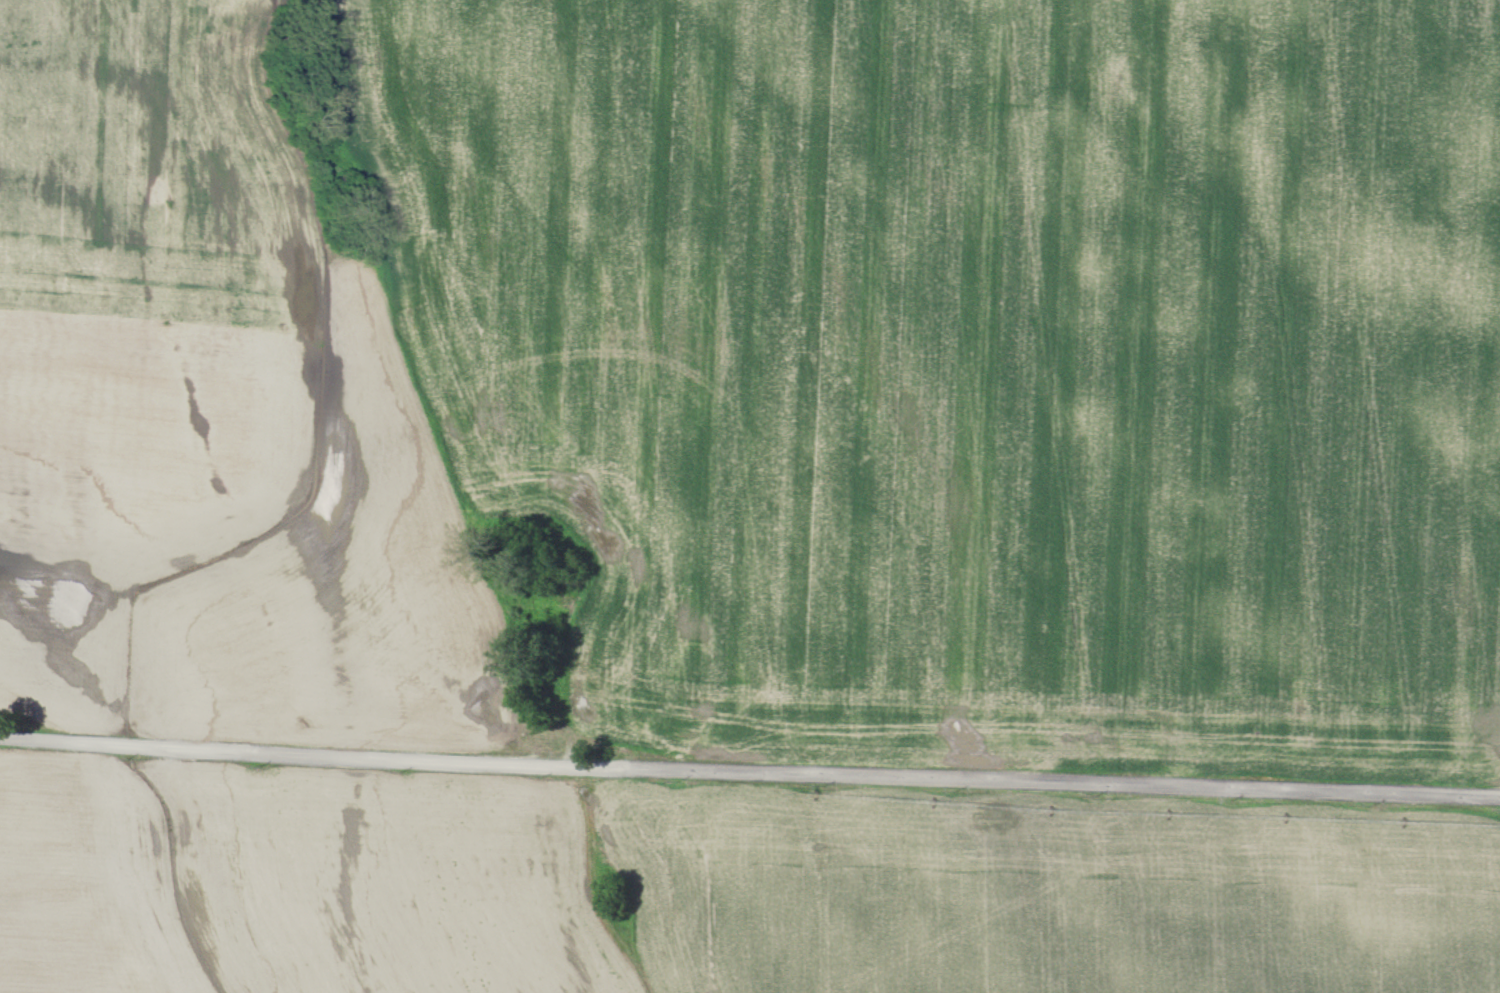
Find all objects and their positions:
crop: (968, 361)
crop: (208, 412)
road: (749, 765)
crop: (302, 880)
crop: (1048, 891)

